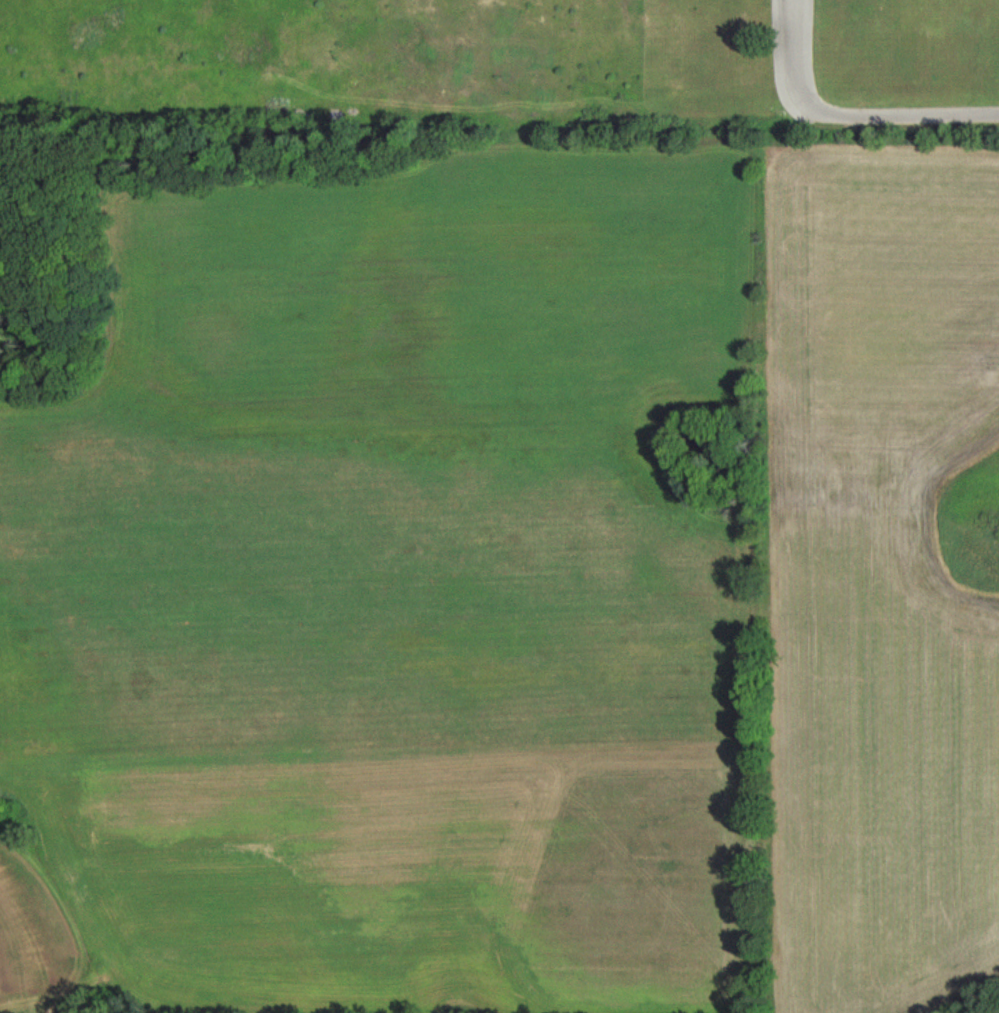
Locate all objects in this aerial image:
road: (844, 118)

